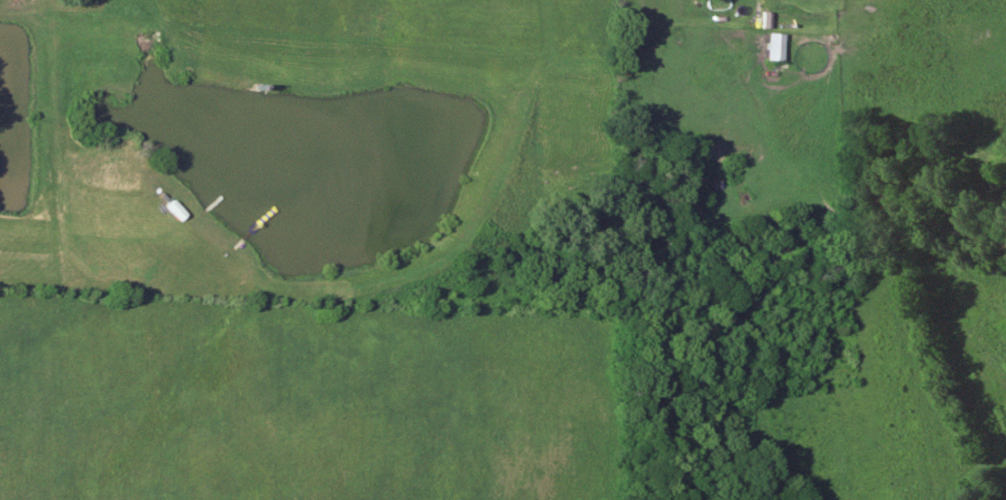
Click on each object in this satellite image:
building: (777, 46)
building: (176, 210)

